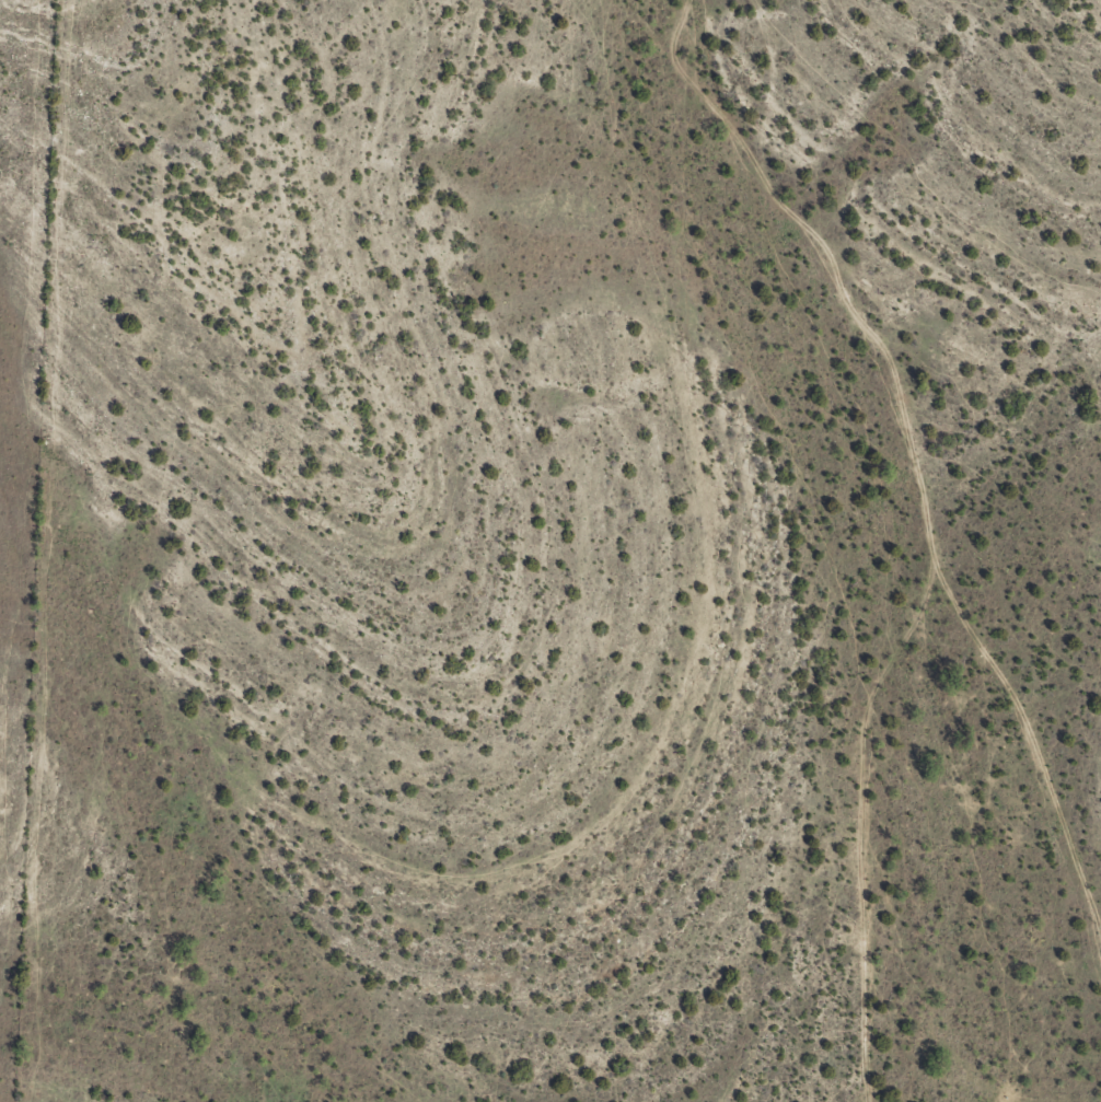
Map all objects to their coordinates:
road: (950, 522)
road: (1058, 705)

